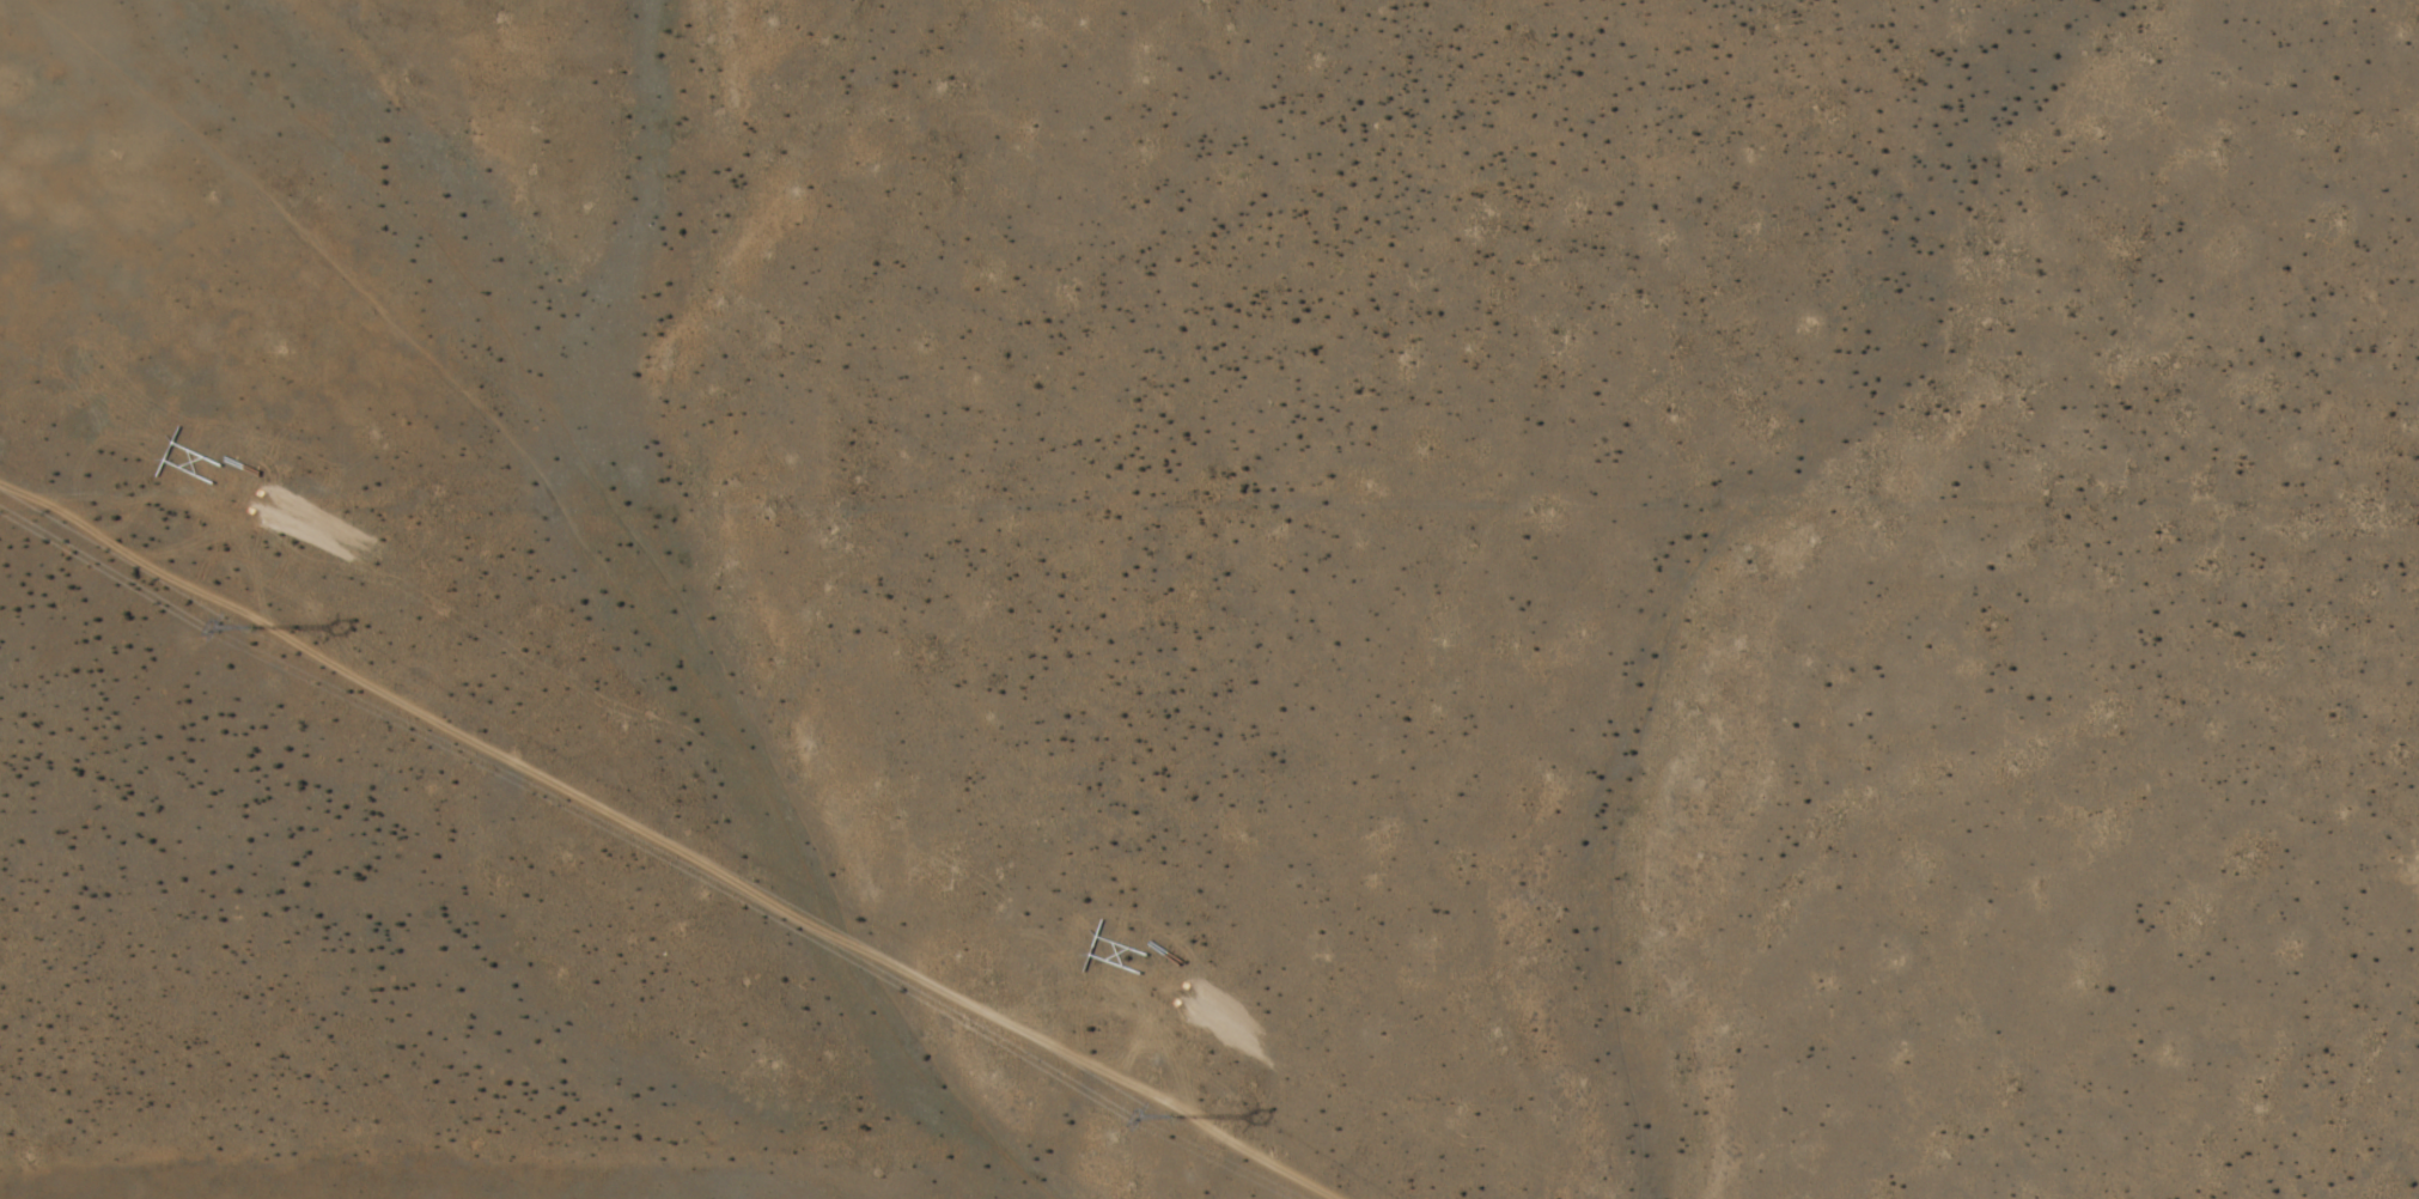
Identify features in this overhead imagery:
power tower: (250, 623)
power tower: (1171, 1120)

